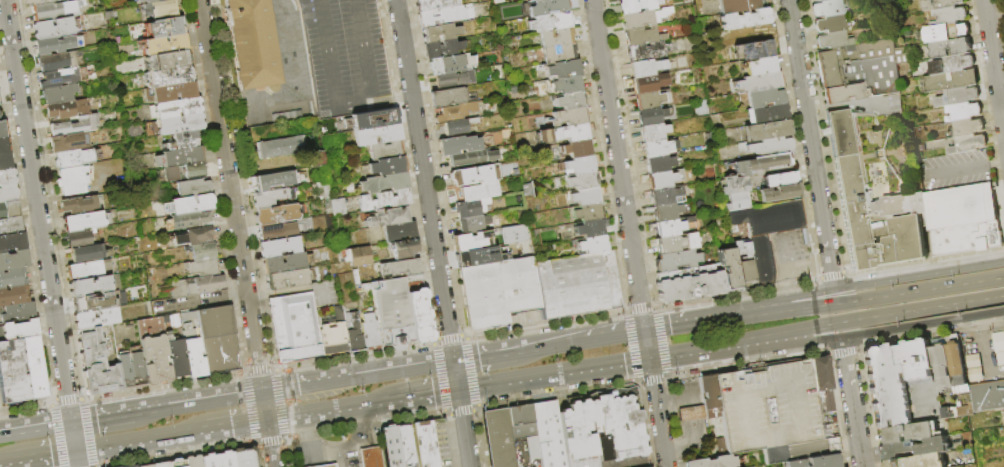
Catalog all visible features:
building: (58, 0)
building: (146, 0)
building: (159, 0)
building: (532, 0)
building: (822, 0)
building: (540, 1)
building: (34, 2)
building: (940, 4)
building: (434, 5)
building: (637, 5)
building: (736, 6)
building: (548, 7)
building: (826, 8)
building: (160, 9)
building: (52, 10)
building: (951, 15)
building: (438, 16)
road: (1002, 17)
building: (643, 18)
building: (742, 19)
road: (993, 19)
building: (549, 22)
building: (829, 23)
building: (165, 26)
building: (54, 28)
building: (440, 32)
building: (943, 33)
building: (642, 36)
building: (556, 37)
building: (833, 40)
building: (252, 43)
building: (164, 44)
building: (56, 45)
road: (364, 47)
building: (951, 48)
building: (442, 49)
building: (646, 51)
building: (748, 51)
building: (558, 53)
road: (327, 54)
building: (167, 59)
building: (55, 62)
building: (450, 64)
building: (953, 64)
road: (993, 64)
building: (862, 65)
building: (759, 66)
building: (644, 68)
building: (563, 69)
building: (167, 76)
building: (57, 78)
building: (454, 78)
building: (952, 81)
building: (759, 82)
building: (648, 83)
building: (556, 86)
building: (169, 92)
building: (58, 94)
building: (845, 94)
road: (364, 95)
building: (958, 96)
building: (446, 97)
building: (764, 98)
building: (570, 100)
building: (646, 101)
road: (373, 102)
building: (176, 107)
building: (66, 109)
building: (963, 111)
building: (455, 112)
building: (765, 114)
building: (571, 116)
building: (648, 117)
building: (376, 120)
building: (178, 123)
building: (72, 126)
building: (457, 126)
building: (966, 128)
building: (2, 129)
building: (766, 130)
building: (651, 132)
building: (564, 133)
building: (840, 133)
building: (376, 135)
building: (183, 139)
building: (68, 142)
road: (810, 144)
building: (969, 144)
building: (3, 145)
building: (458, 145)
building: (768, 147)
building: (276, 148)
building: (576, 148)
building: (655, 149)
building: (384, 150)
building: (178, 157)
building: (471, 157)
building: (72, 158)
building: (316, 159)
building: (4, 162)
building: (760, 163)
building: (579, 164)
road: (618, 164)
building: (657, 164)
building: (386, 166)
road: (964, 167)
building: (192, 170)
building: (171, 174)
building: (473, 175)
building: (7, 178)
building: (663, 179)
building: (70, 180)
building: (273, 180)
road: (424, 180)
building: (583, 180)
building: (780, 180)
building: (383, 183)
building: (733, 185)
building: (847, 185)
building: (192, 188)
building: (326, 190)
building: (476, 192)
building: (778, 193)
building: (7, 194)
building: (665, 195)
road: (230, 196)
building: (585, 196)
building: (269, 197)
building: (382, 200)
building: (735, 202)
building: (918, 203)
building: (188, 205)
building: (961, 205)
building: (78, 206)
building: (888, 206)
building: (337, 207)
building: (471, 208)
building: (8, 210)
building: (587, 212)
building: (664, 212)
building: (276, 214)
building: (387, 217)
building: (187, 219)
building: (766, 219)
building: (84, 221)
building: (473, 224)
building: (10, 226)
building: (670, 227)
building: (925, 227)
building: (590, 228)
building: (271, 231)
building: (398, 231)
road: (40, 233)
building: (193, 236)
building: (512, 236)
building: (966, 238)
building: (77, 240)
building: (470, 241)
building: (12, 242)
building: (592, 244)
building: (674, 244)
building: (278, 247)
building: (403, 248)
building: (201, 252)
building: (85, 253)
building: (355, 256)
building: (760, 260)
building: (13, 261)
building: (675, 261)
building: (742, 261)
building: (282, 263)
building: (201, 267)
building: (400, 268)
building: (727, 268)
building: (88, 270)
building: (354, 277)
building: (10, 279)
building: (286, 279)
building: (339, 280)
road: (874, 281)
building: (577, 284)
building: (687, 284)
building: (194, 285)
road: (951, 285)
building: (94, 286)
building: (498, 291)
road: (284, 292)
road: (236, 295)
building: (11, 296)
road: (322, 296)
building: (92, 302)
road: (189, 303)
road: (953, 303)
road: (823, 305)
building: (392, 312)
building: (17, 313)
building: (419, 315)
building: (95, 318)
road: (695, 321)
building: (165, 323)
road: (827, 325)
building: (293, 327)
building: (19, 330)
traffic signals: (644, 330)
building: (368, 331)
road: (878, 334)
building: (332, 335)
building: (353, 335)
road: (982, 336)
building: (215, 338)
road: (578, 341)
road: (646, 344)
building: (998, 345)
road: (713, 348)
building: (153, 351)
building: (192, 354)
building: (175, 356)
road: (482, 356)
road: (661, 356)
traffic signals: (649, 359)
building: (955, 359)
traffic signals: (453, 361)
building: (134, 364)
building: (941, 364)
building: (95, 365)
building: (122, 368)
road: (399, 369)
building: (21, 371)
road: (553, 373)
road: (455, 375)
building: (822, 382)
building: (919, 383)
road: (304, 385)
building: (885, 386)
traffic signals: (458, 389)
road: (736, 389)
building: (962, 389)
road: (427, 394)
building: (709, 396)
building: (988, 397)
road: (197, 402)
road: (851, 402)
road: (264, 406)
building: (767, 406)
parking lot: (767, 407)
road: (330, 409)
road: (657, 413)
building: (690, 413)
building: (946, 413)
road: (101, 417)
building: (438, 421)
building: (521, 422)
traffic signals: (71, 423)
road: (235, 425)
building: (827, 425)
road: (35, 428)
road: (463, 428)
building: (617, 429)
road: (0, 430)
building: (912, 433)
building: (576, 434)
building: (548, 435)
building: (498, 439)
road: (140, 440)
road: (368, 441)
road: (269, 443)
building: (405, 444)
building: (424, 444)
building: (391, 446)
building: (913, 449)
road: (333, 450)
building: (800, 450)
traffic signals: (75, 451)
road: (807, 451)
road: (44, 455)
building: (244, 457)
building: (370, 457)
road: (344, 458)
building: (217, 460)
road: (312, 460)
building: (193, 461)
building: (917, 461)
road: (7, 462)
building: (711, 462)
building: (815, 462)
building: (177, 463)
road: (14, 464)
building: (161, 464)
building: (133, 466)
building: (147, 466)
building: (328, 466)

